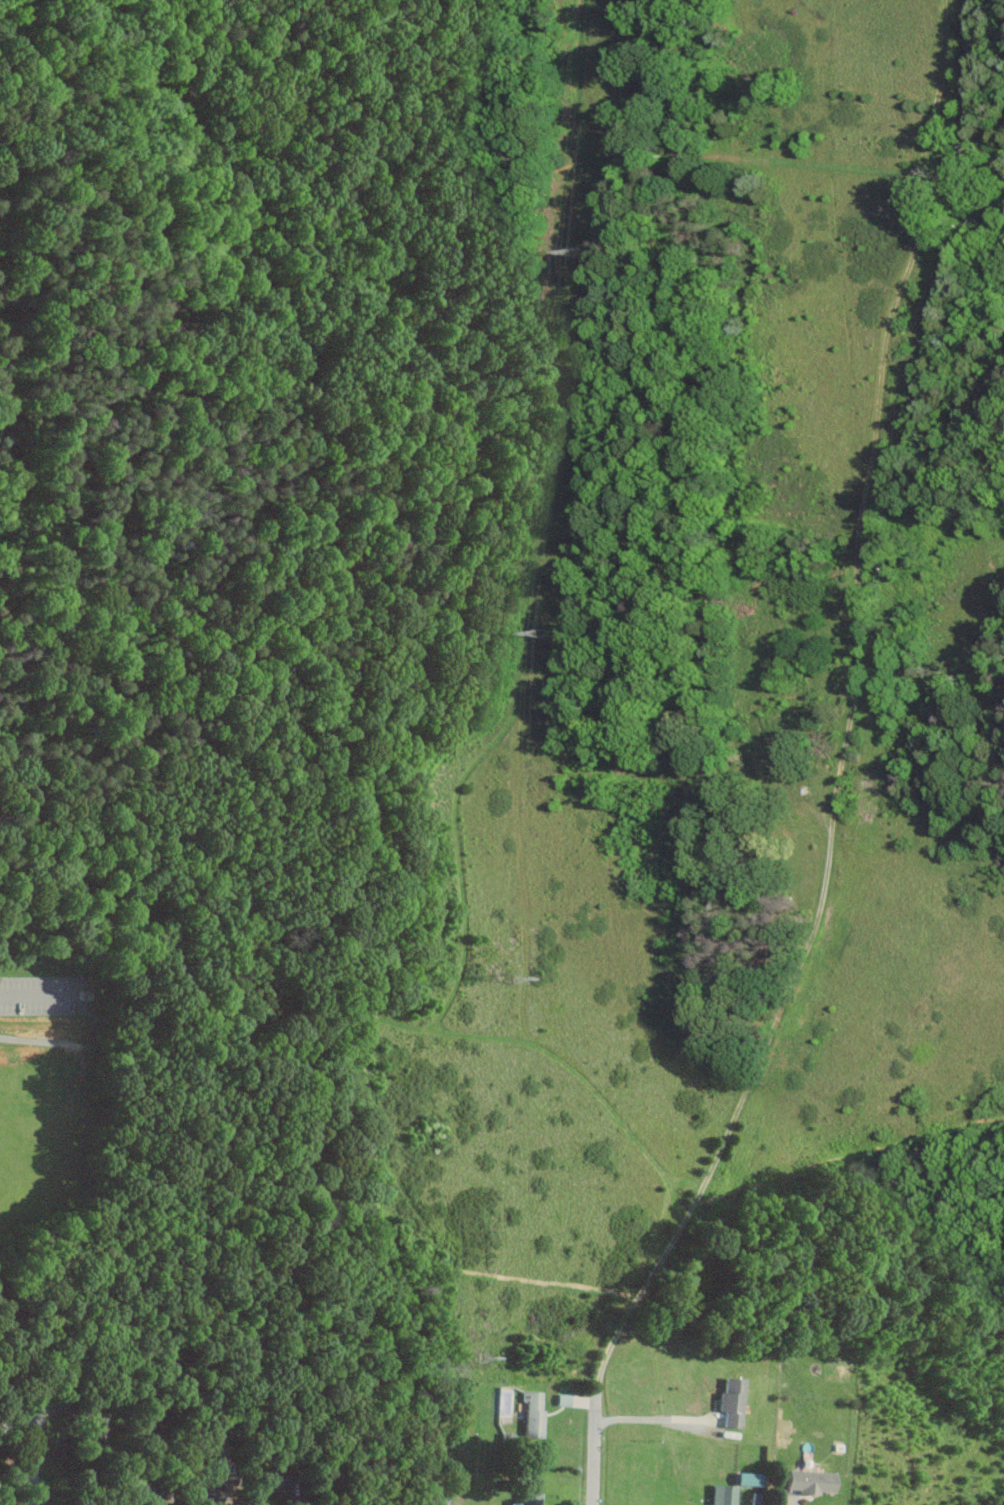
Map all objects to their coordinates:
road: (753, 159)
power tower: (576, 251)
road: (240, 550)
power tower: (542, 633)
park: (507, 689)
road: (848, 714)
power tower: (513, 978)
parking lot: (38, 994)
road: (38, 994)
road: (89, 1013)
road: (431, 1028)
road: (49, 1041)
power tower: (477, 1357)
building: (561, 1399)
building: (729, 1401)
building: (531, 1414)
road: (645, 1418)
building: (102, 1427)
road: (38, 1434)
road: (331, 1438)
road: (594, 1445)
building: (746, 1479)
building: (808, 1481)
building: (217, 1490)
building: (720, 1495)
building: (432, 1499)
building: (525, 1499)

